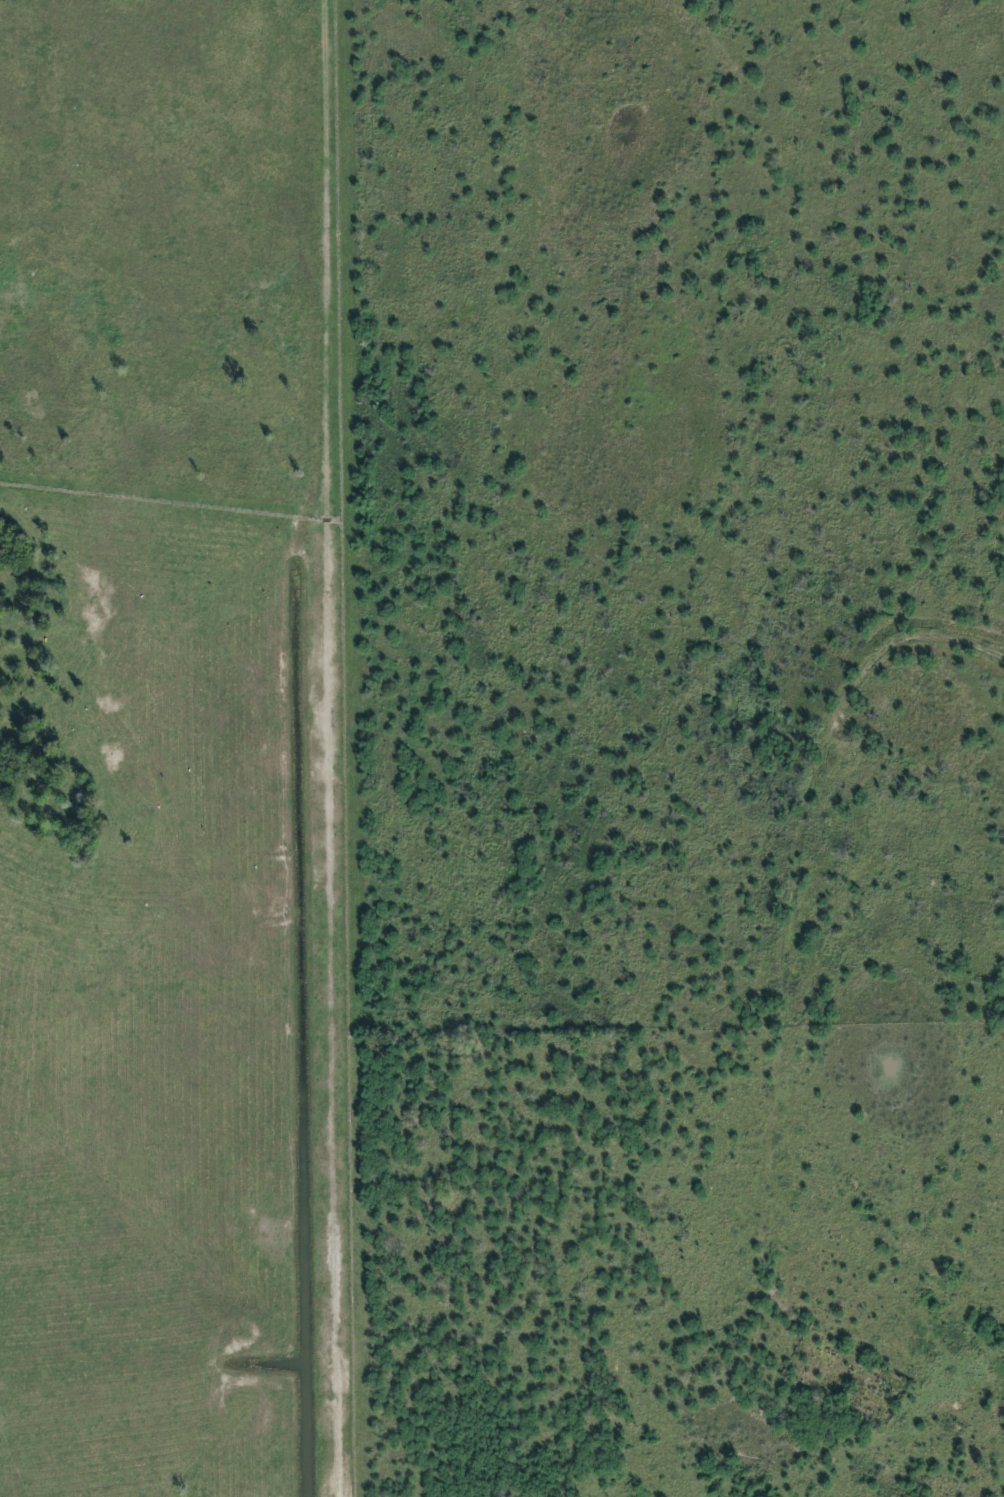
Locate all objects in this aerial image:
road: (977, 1385)

